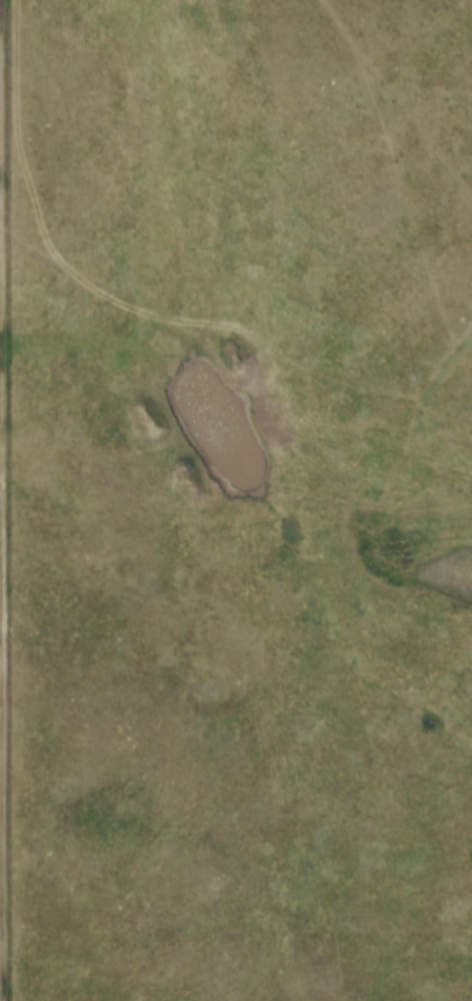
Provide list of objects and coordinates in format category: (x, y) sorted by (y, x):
road: (5, 500)

